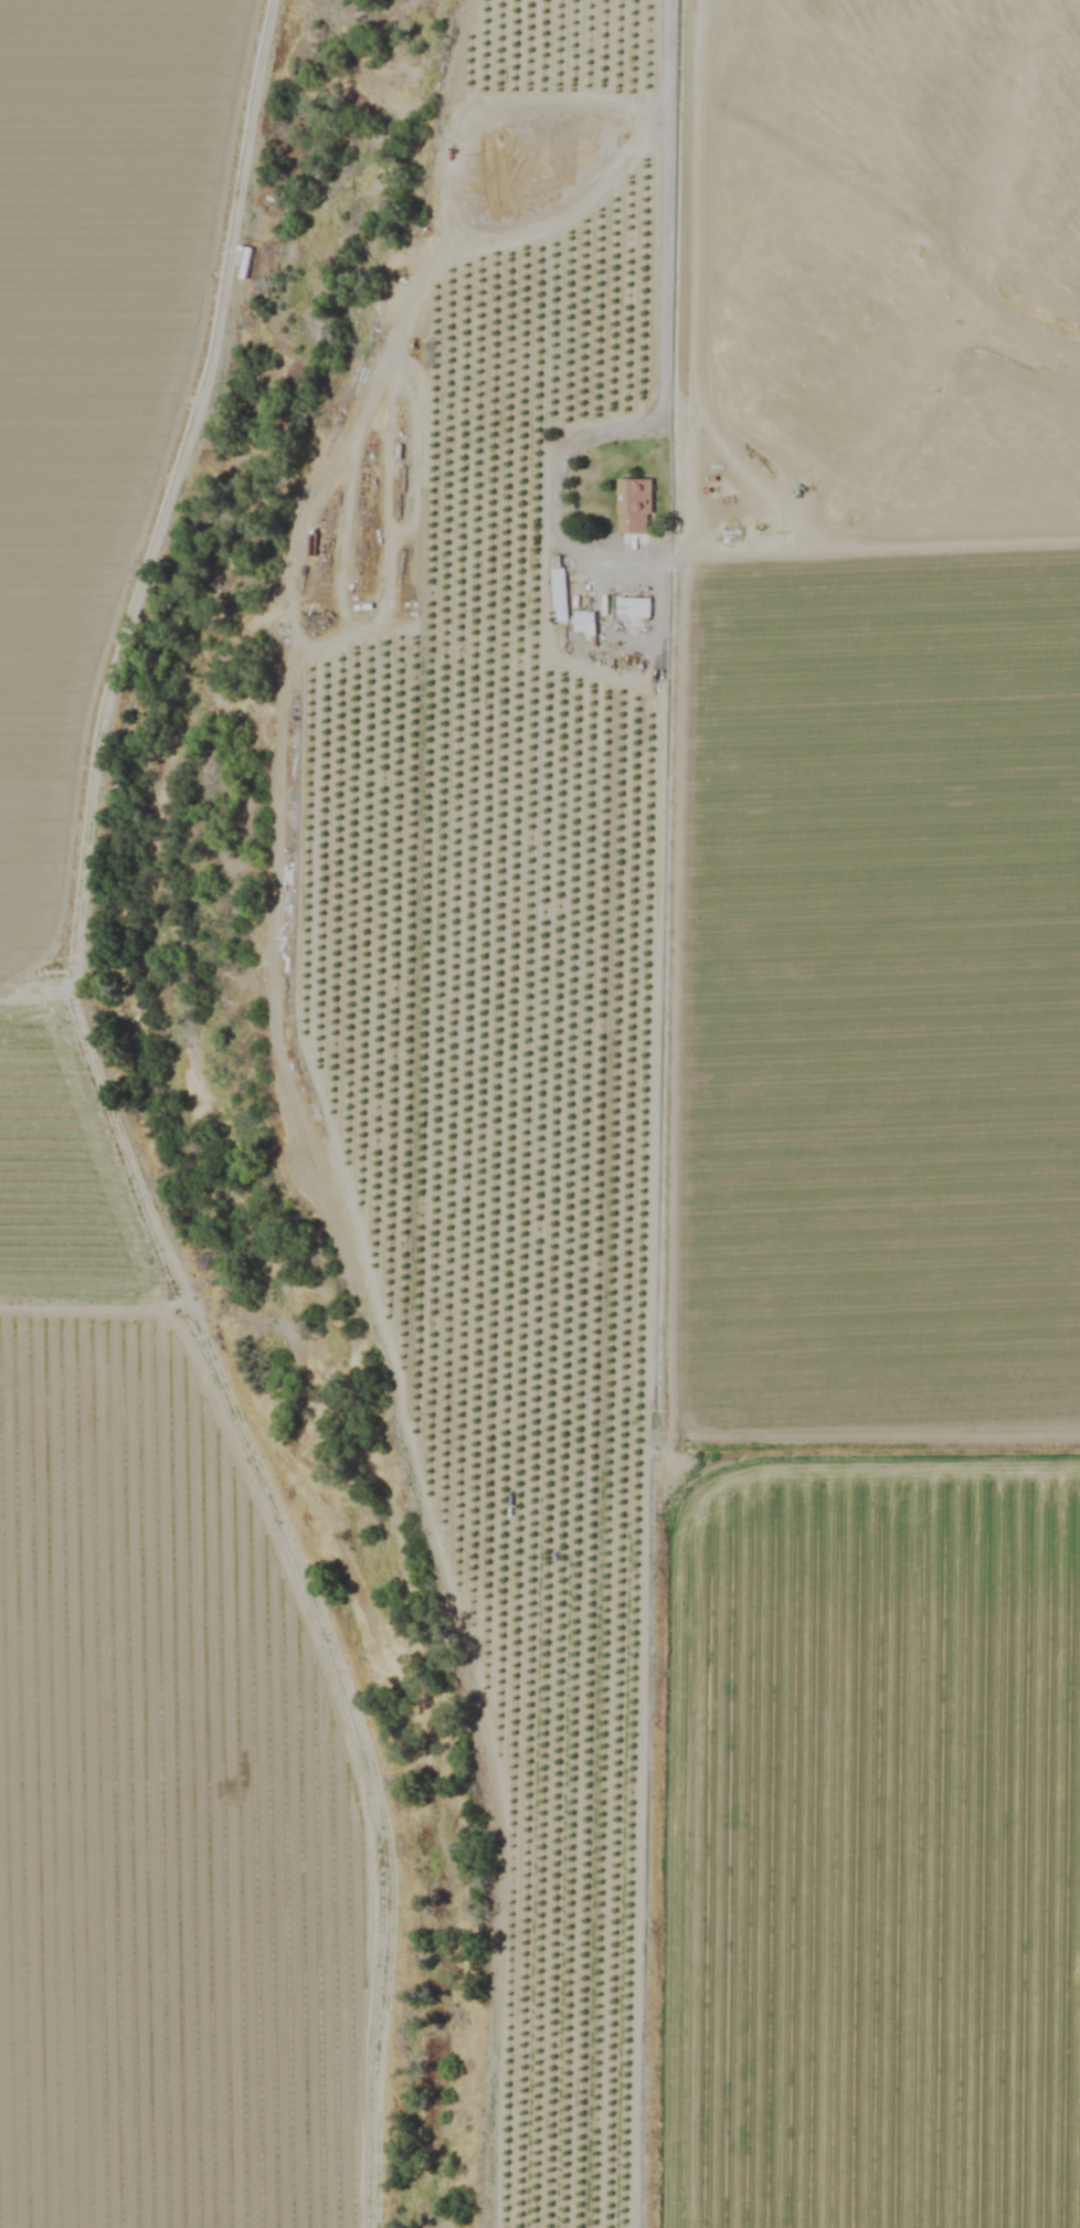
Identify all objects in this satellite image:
road: (664, 234)
building: (242, 263)
building: (632, 507)
building: (558, 590)
building: (632, 608)
building: (583, 623)
road: (108, 656)
crop: (547, 1218)

